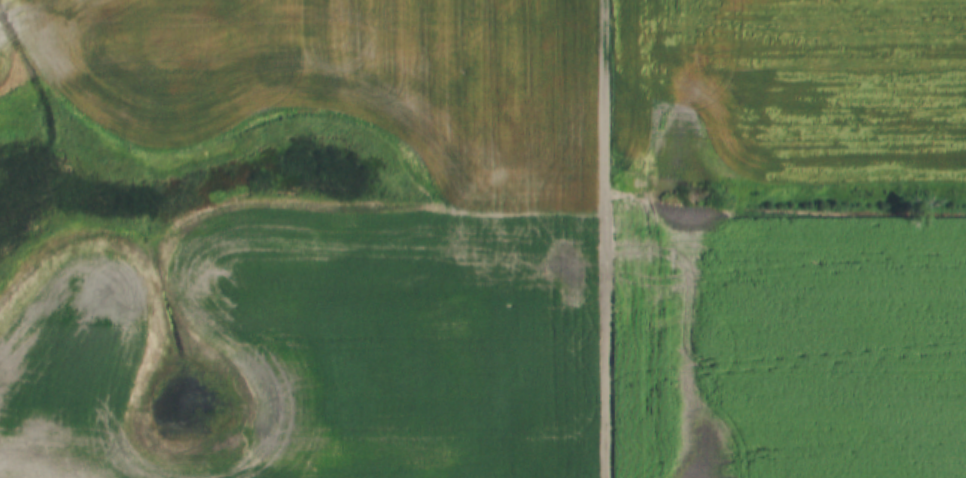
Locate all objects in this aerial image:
road: (603, 239)

